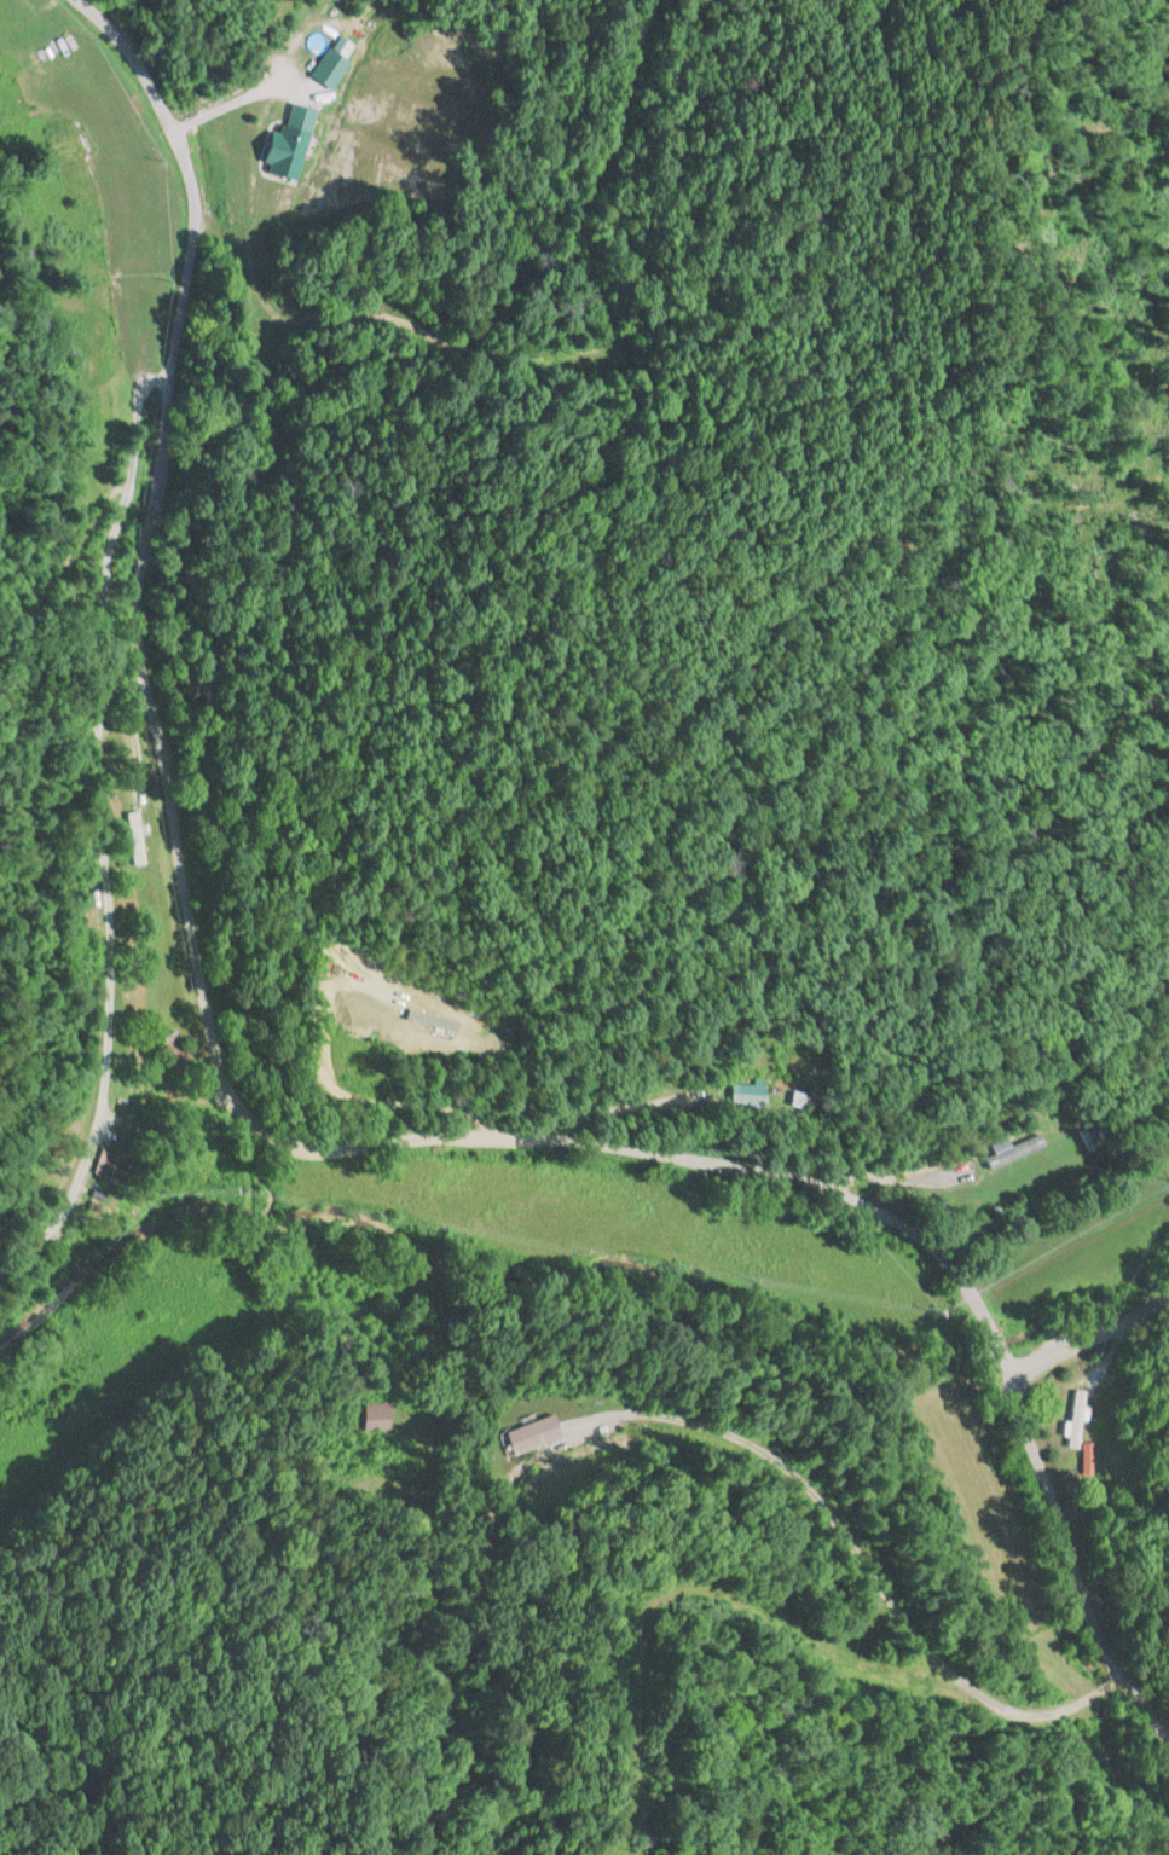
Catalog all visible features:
building: (328, 68)
building: (290, 140)
road: (151, 532)
road: (91, 819)
building: (134, 837)
building: (328, 969)
building: (423, 1018)
building: (173, 1051)
building: (753, 1092)
building: (1013, 1150)
building: (110, 1164)
road: (742, 1169)
building: (374, 1416)
building: (1075, 1419)
building: (533, 1434)
road: (1070, 1559)

